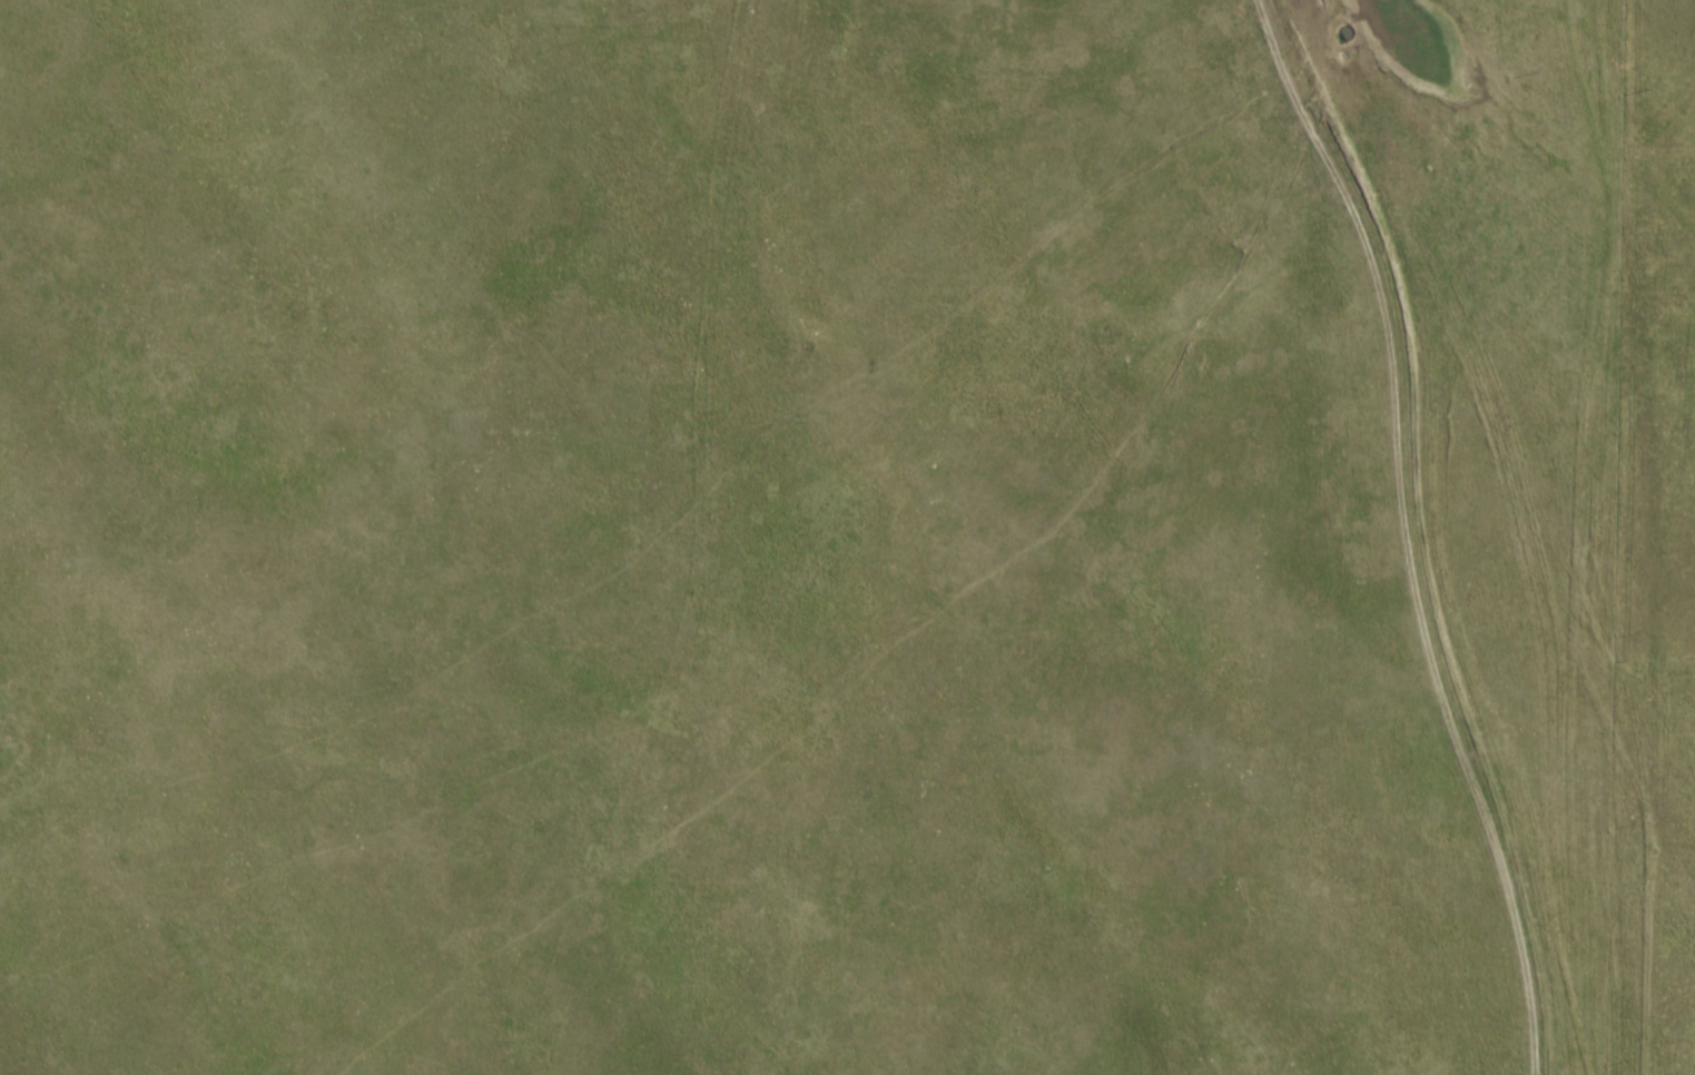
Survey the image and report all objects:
road: (1518, 521)

